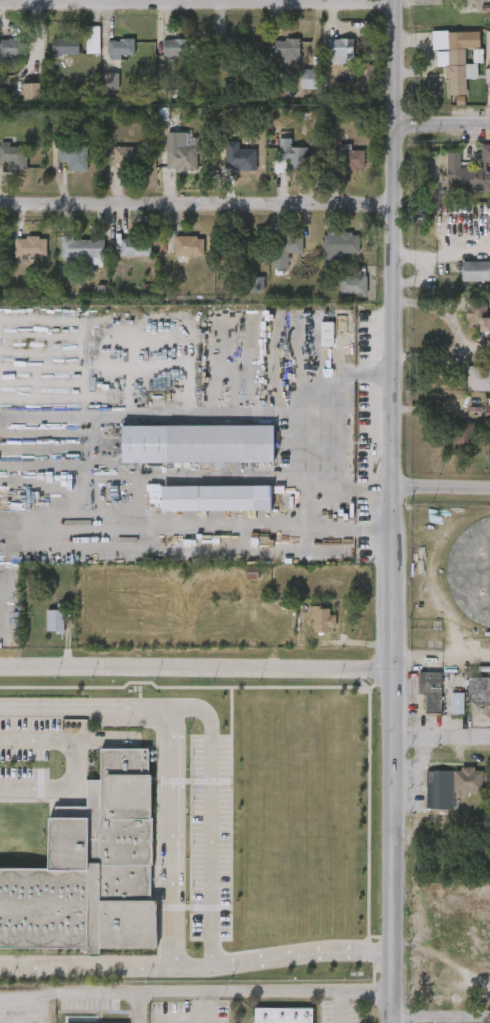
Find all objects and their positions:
road: (198, 3)
building: (92, 40)
building: (63, 46)
building: (229, 46)
building: (9, 48)
building: (175, 48)
building: (120, 49)
building: (340, 51)
building: (285, 52)
building: (488, 54)
building: (461, 59)
building: (307, 79)
building: (110, 82)
building: (31, 92)
building: (57, 117)
building: (176, 120)
road: (442, 124)
building: (14, 157)
building: (73, 157)
building: (125, 157)
building: (290, 157)
building: (347, 160)
building: (181, 161)
building: (239, 161)
building: (468, 172)
road: (198, 205)
road: (396, 243)
building: (340, 244)
building: (134, 248)
building: (187, 248)
building: (248, 249)
building: (26, 250)
building: (82, 251)
building: (281, 257)
building: (475, 270)
building: (256, 284)
building: (352, 284)
building: (478, 314)
building: (327, 334)
road: (460, 341)
road: (362, 374)
building: (477, 378)
building: (489, 411)
building: (461, 430)
building: (198, 443)
road: (317, 464)
road: (441, 487)
building: (215, 498)
road: (314, 505)
road: (356, 530)
building: (54, 620)
building: (322, 621)
road: (195, 665)
building: (430, 688)
building: (479, 697)
building: (456, 702)
road: (211, 735)
road: (441, 737)
road: (391, 755)
road: (78, 758)
building: (451, 784)
road: (172, 837)
building: (89, 867)
road: (195, 970)
road: (222, 991)
road: (27, 998)
road: (137, 1007)
building: (282, 1015)
road: (440, 1017)
building: (83, 1019)
road: (448, 1020)

